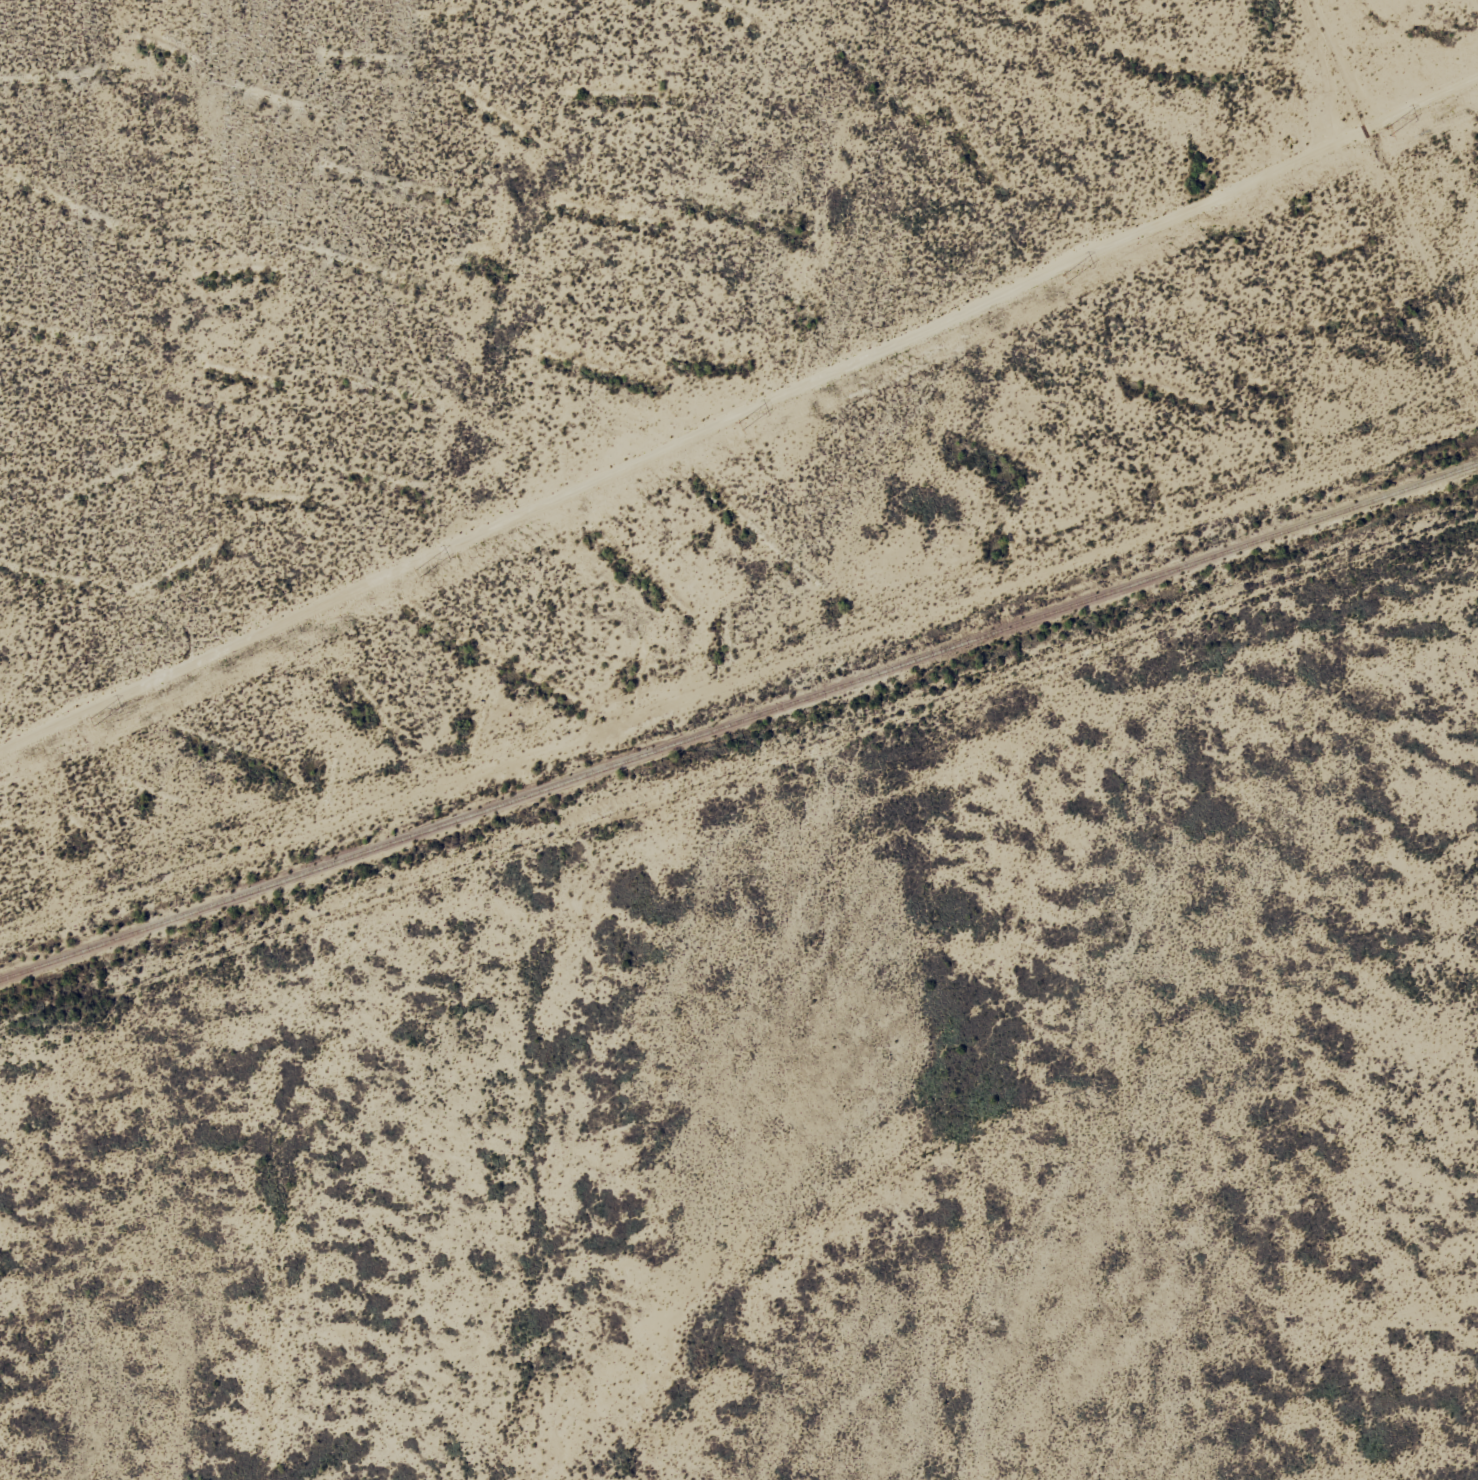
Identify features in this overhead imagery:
power tower: (1387, 132)
power tower: (1064, 279)
power tower: (739, 427)
power tower: (416, 574)
road: (750, 640)
power tower: (91, 722)
railway: (739, 722)
road: (739, 821)
road: (1066, 1214)

